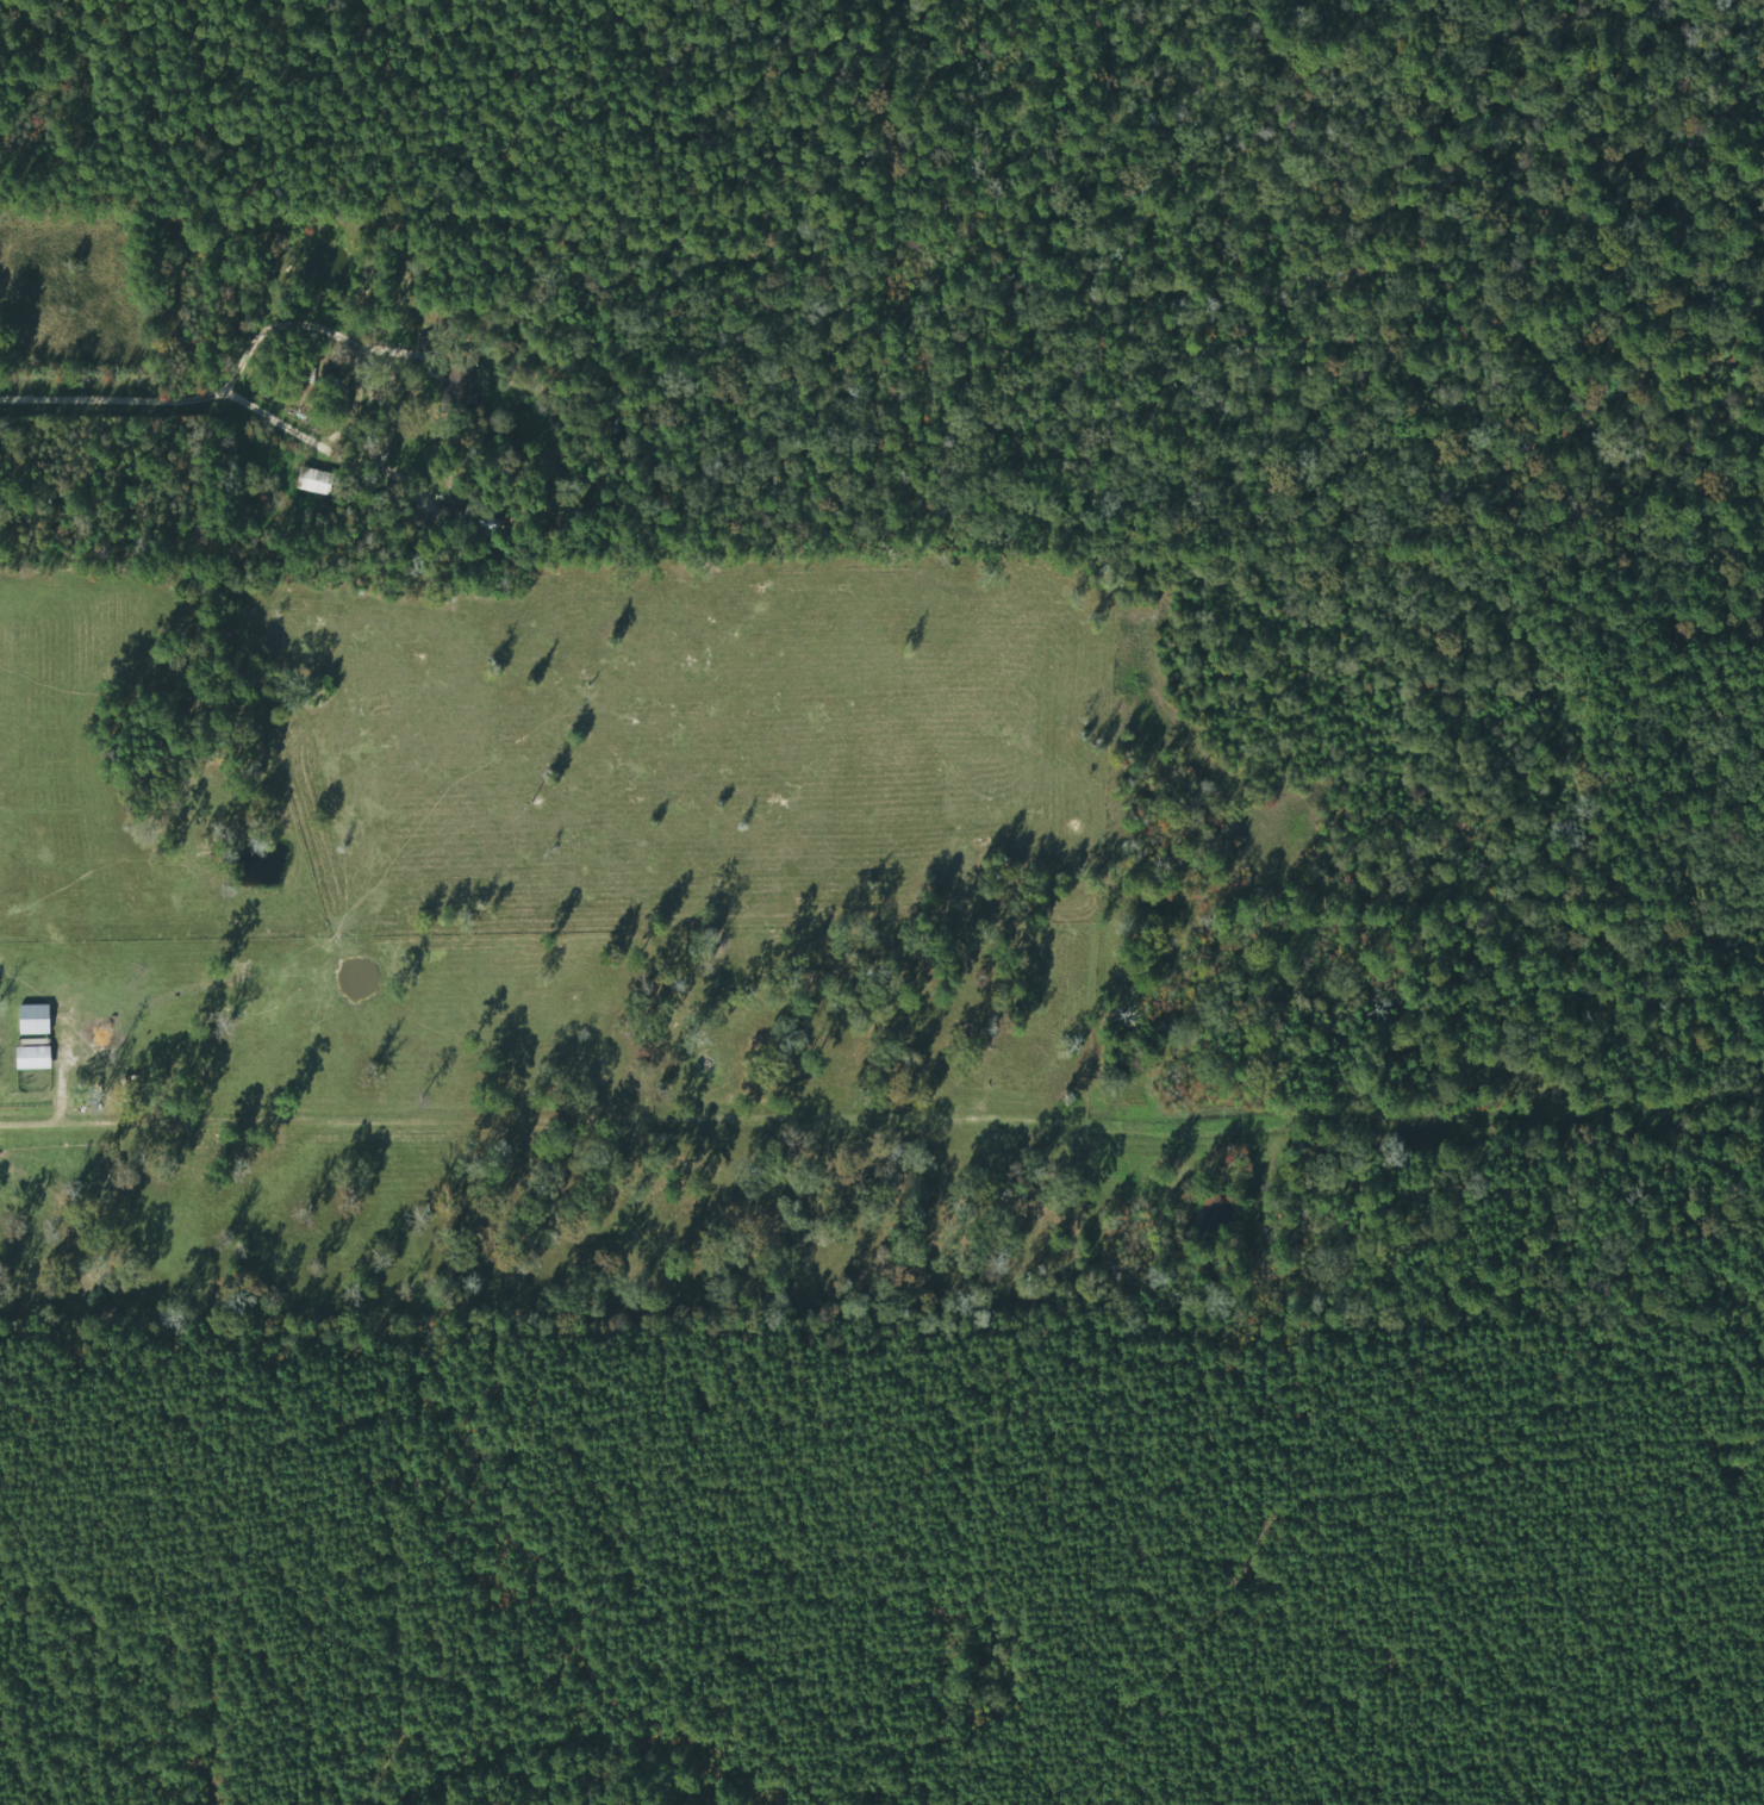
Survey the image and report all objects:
building: (308, 341)
road: (357, 373)
building: (456, 382)
road: (106, 399)
building: (311, 481)
building: (479, 517)
building: (32, 1020)
building: (31, 1058)

